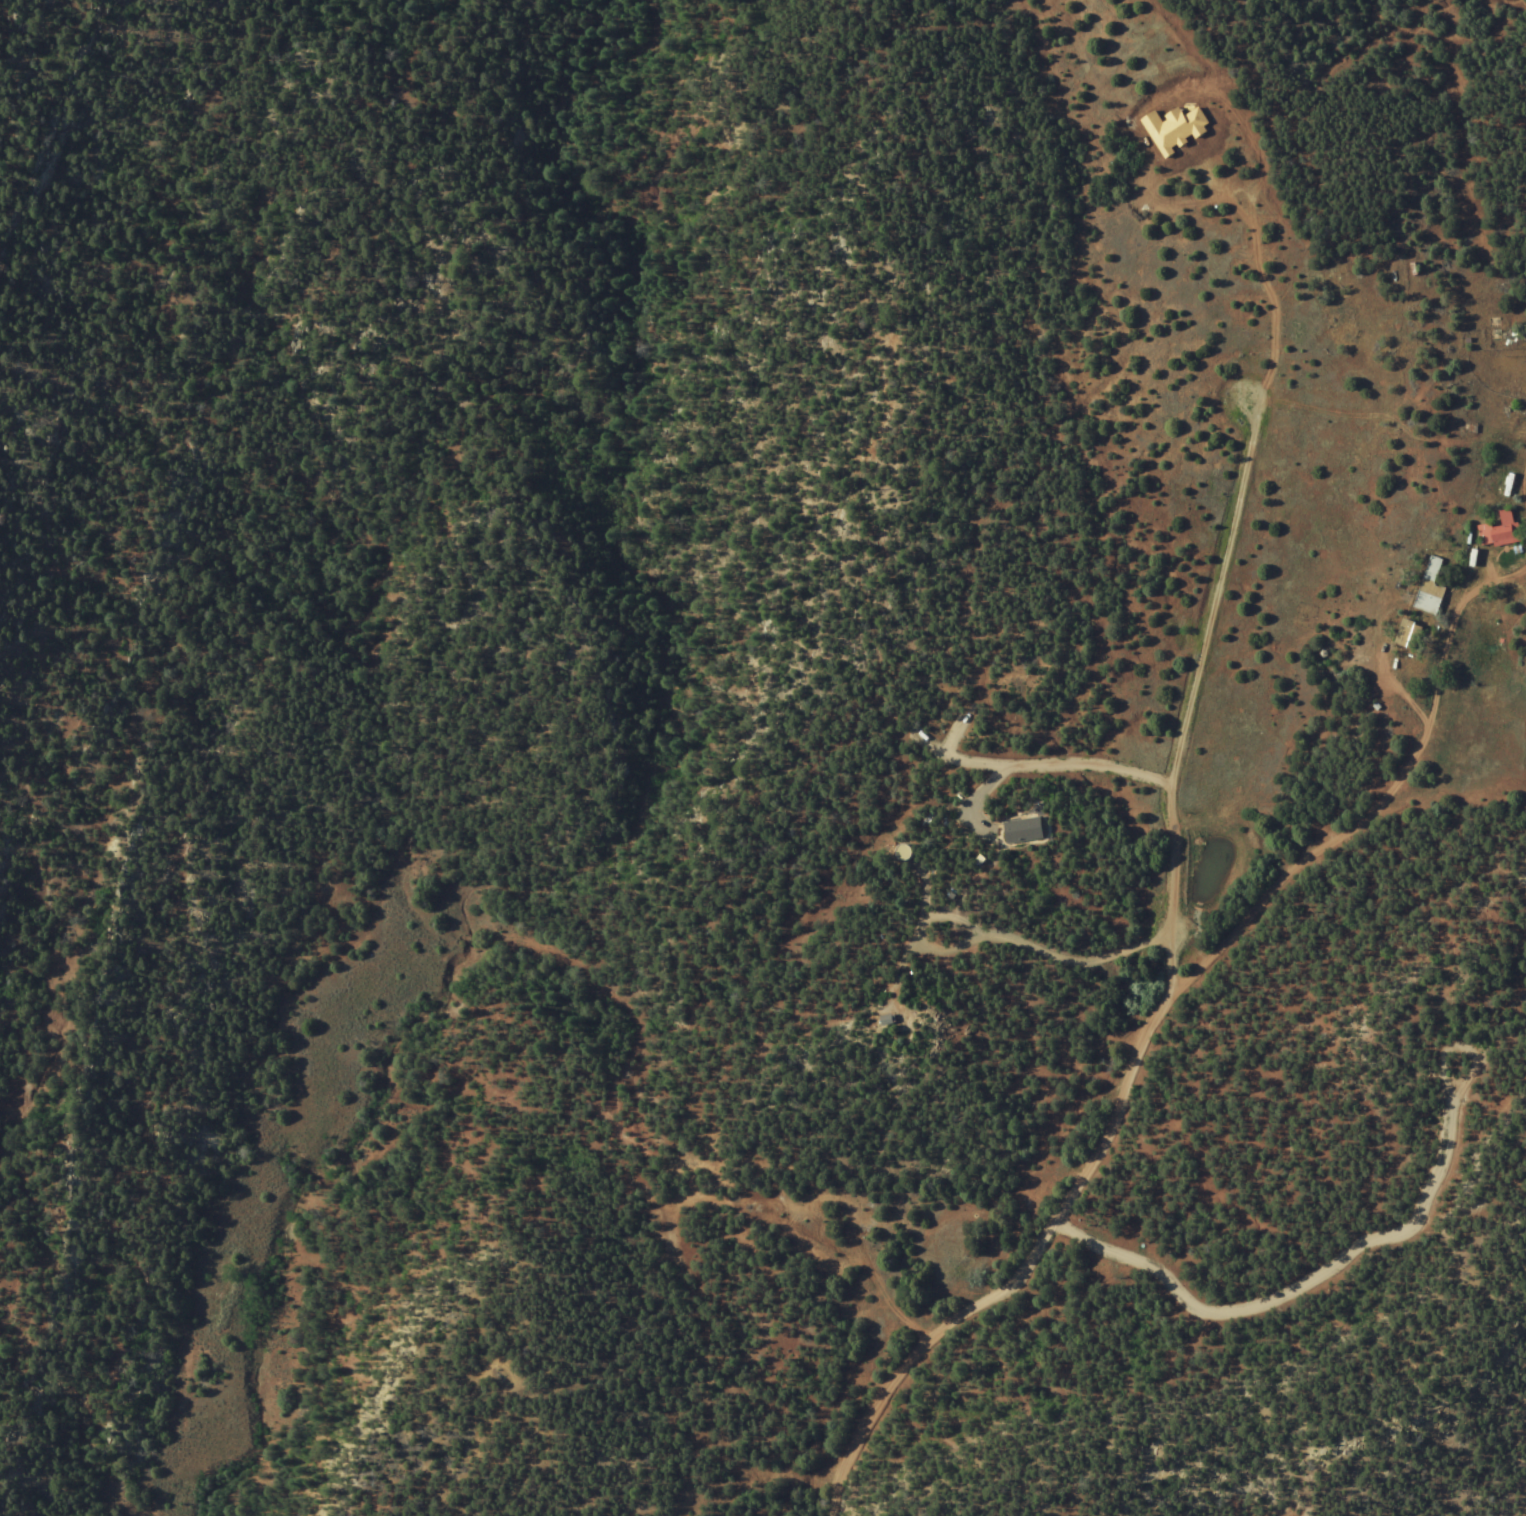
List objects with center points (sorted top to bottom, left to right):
road: (1179, 492)
building: (1499, 530)
building: (1431, 569)
building: (1426, 602)
building: (1407, 635)
road: (1168, 989)

